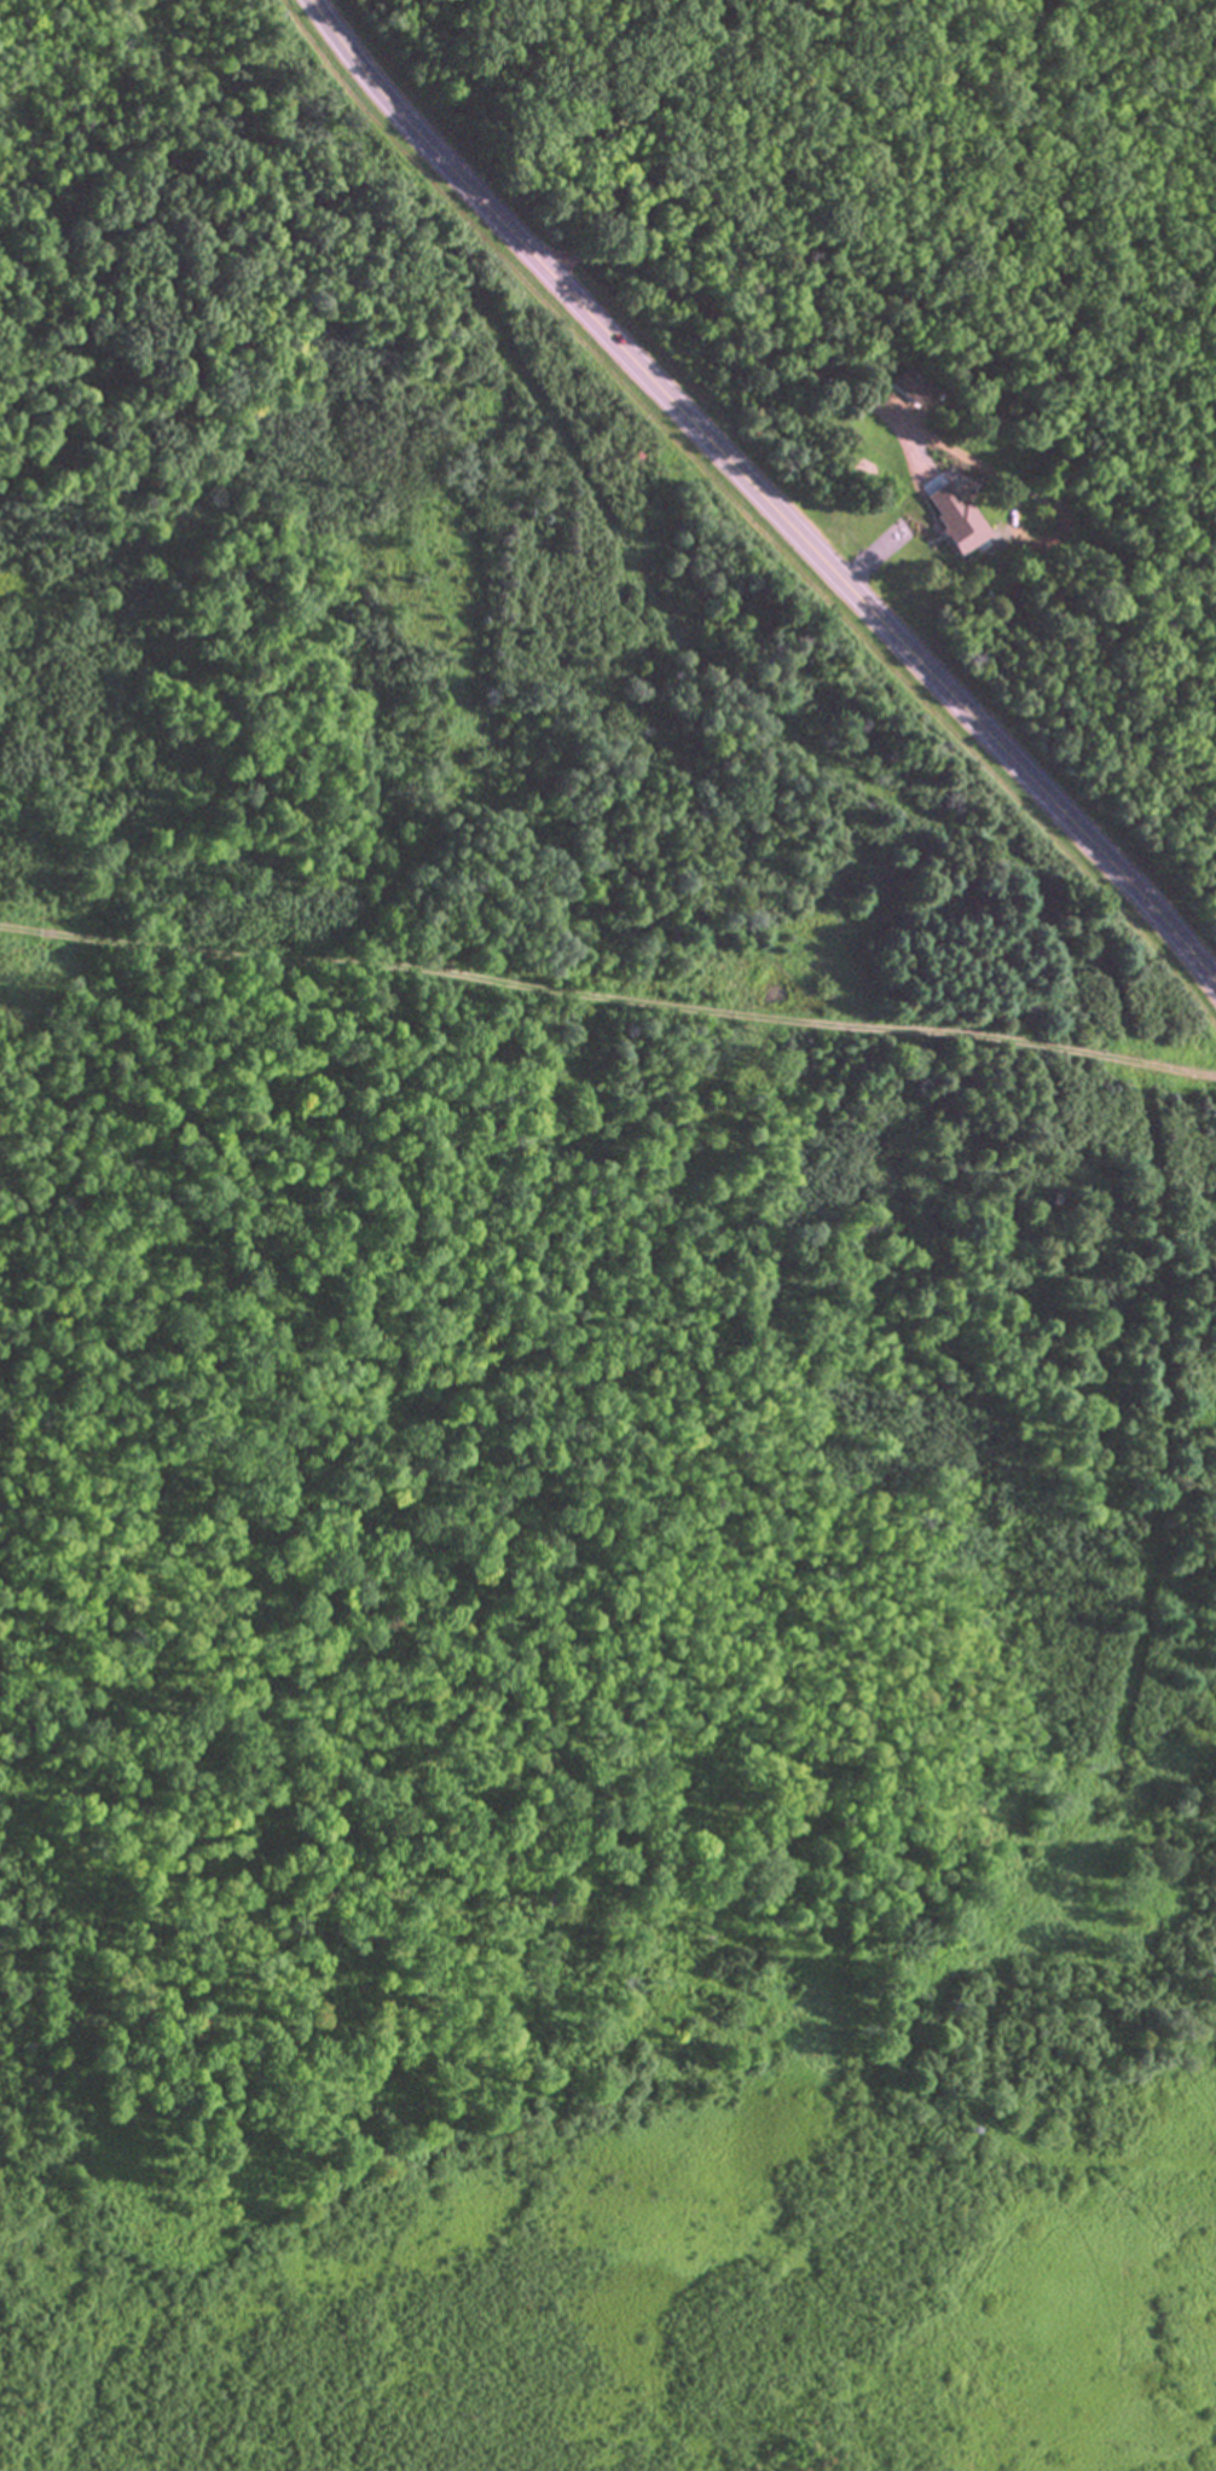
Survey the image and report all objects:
building: (913, 388)
road: (759, 496)
building: (957, 526)

